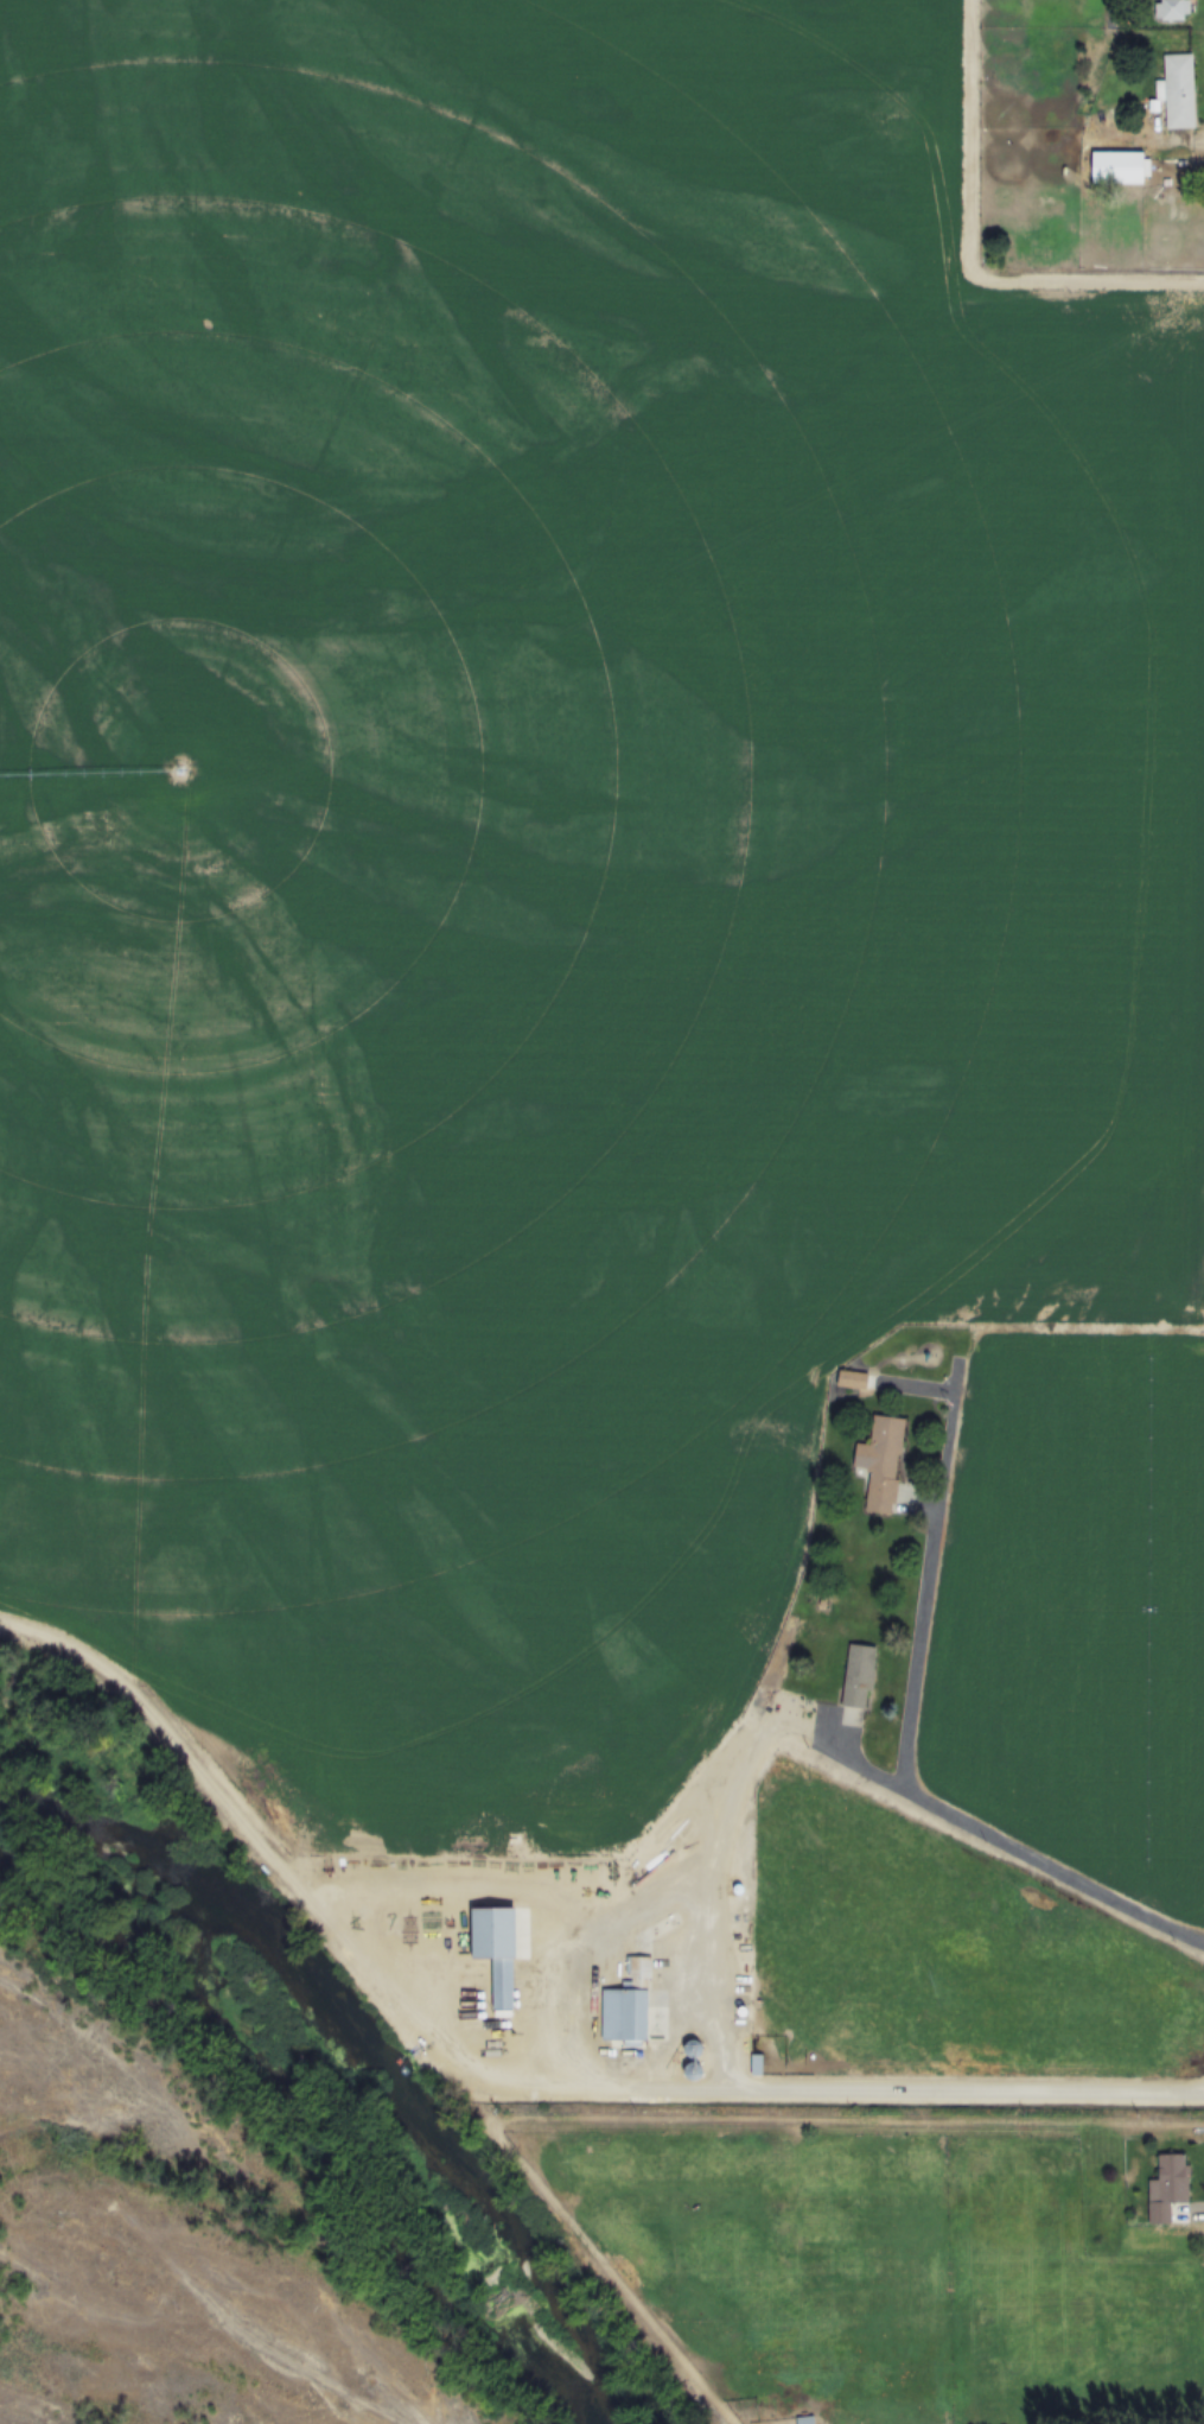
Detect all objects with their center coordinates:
building: (1172, 9)
building: (1179, 90)
building: (1120, 165)
building: (852, 1378)
building: (880, 1460)
road: (925, 1604)
building: (858, 1675)
road: (259, 1836)
road: (707, 1877)
building: (497, 1949)
road: (709, 1992)
building: (626, 2001)
building: (692, 2047)
building: (756, 2063)
building: (692, 2069)
road: (620, 2092)
building: (1167, 2185)
building: (804, 2418)

